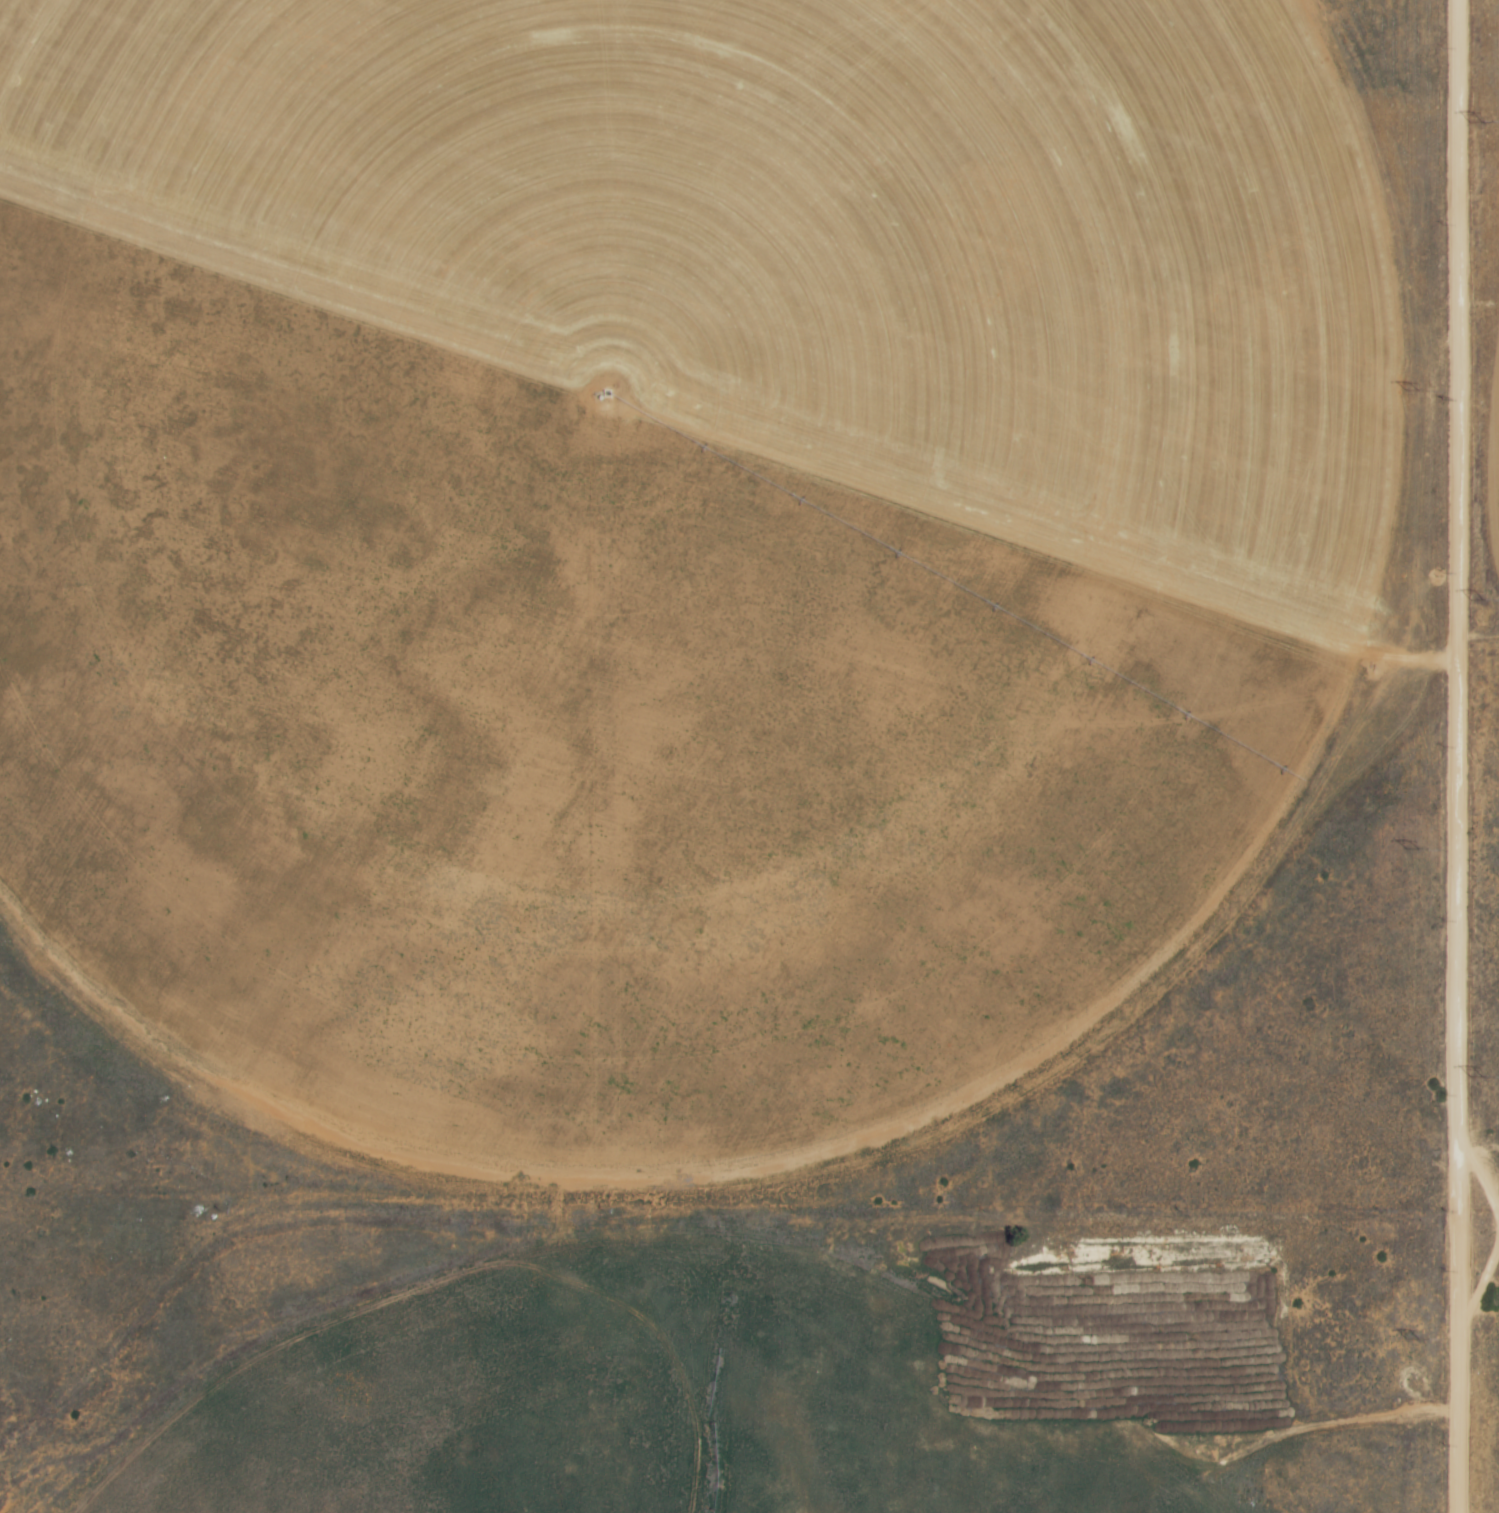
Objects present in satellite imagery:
power tower: (1480, 124)
power tower: (1412, 387)
road: (1481, 440)
power tower: (1480, 600)
road: (1461, 664)
power tower: (1414, 849)
power tower: (1479, 1075)
road: (1479, 1175)
power tower: (1415, 1338)
road: (1459, 1379)

